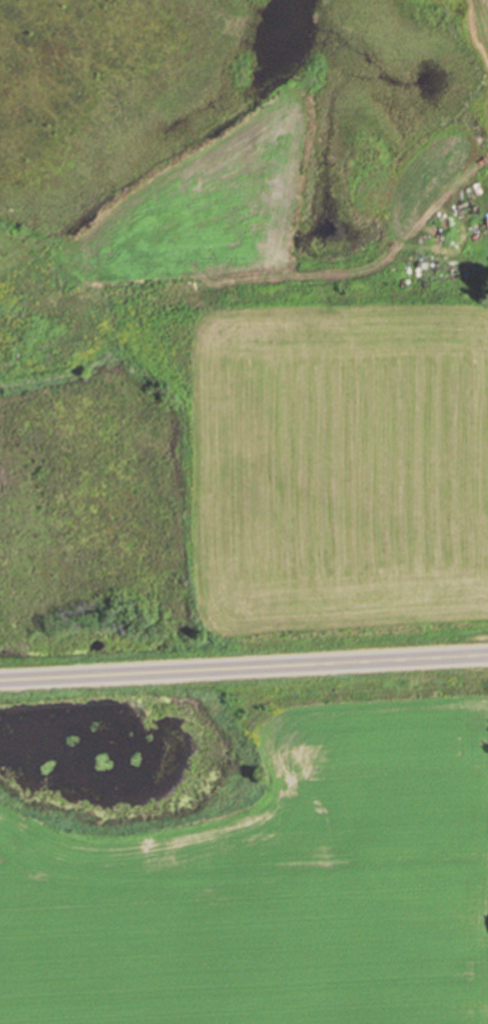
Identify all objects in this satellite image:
road: (244, 671)

